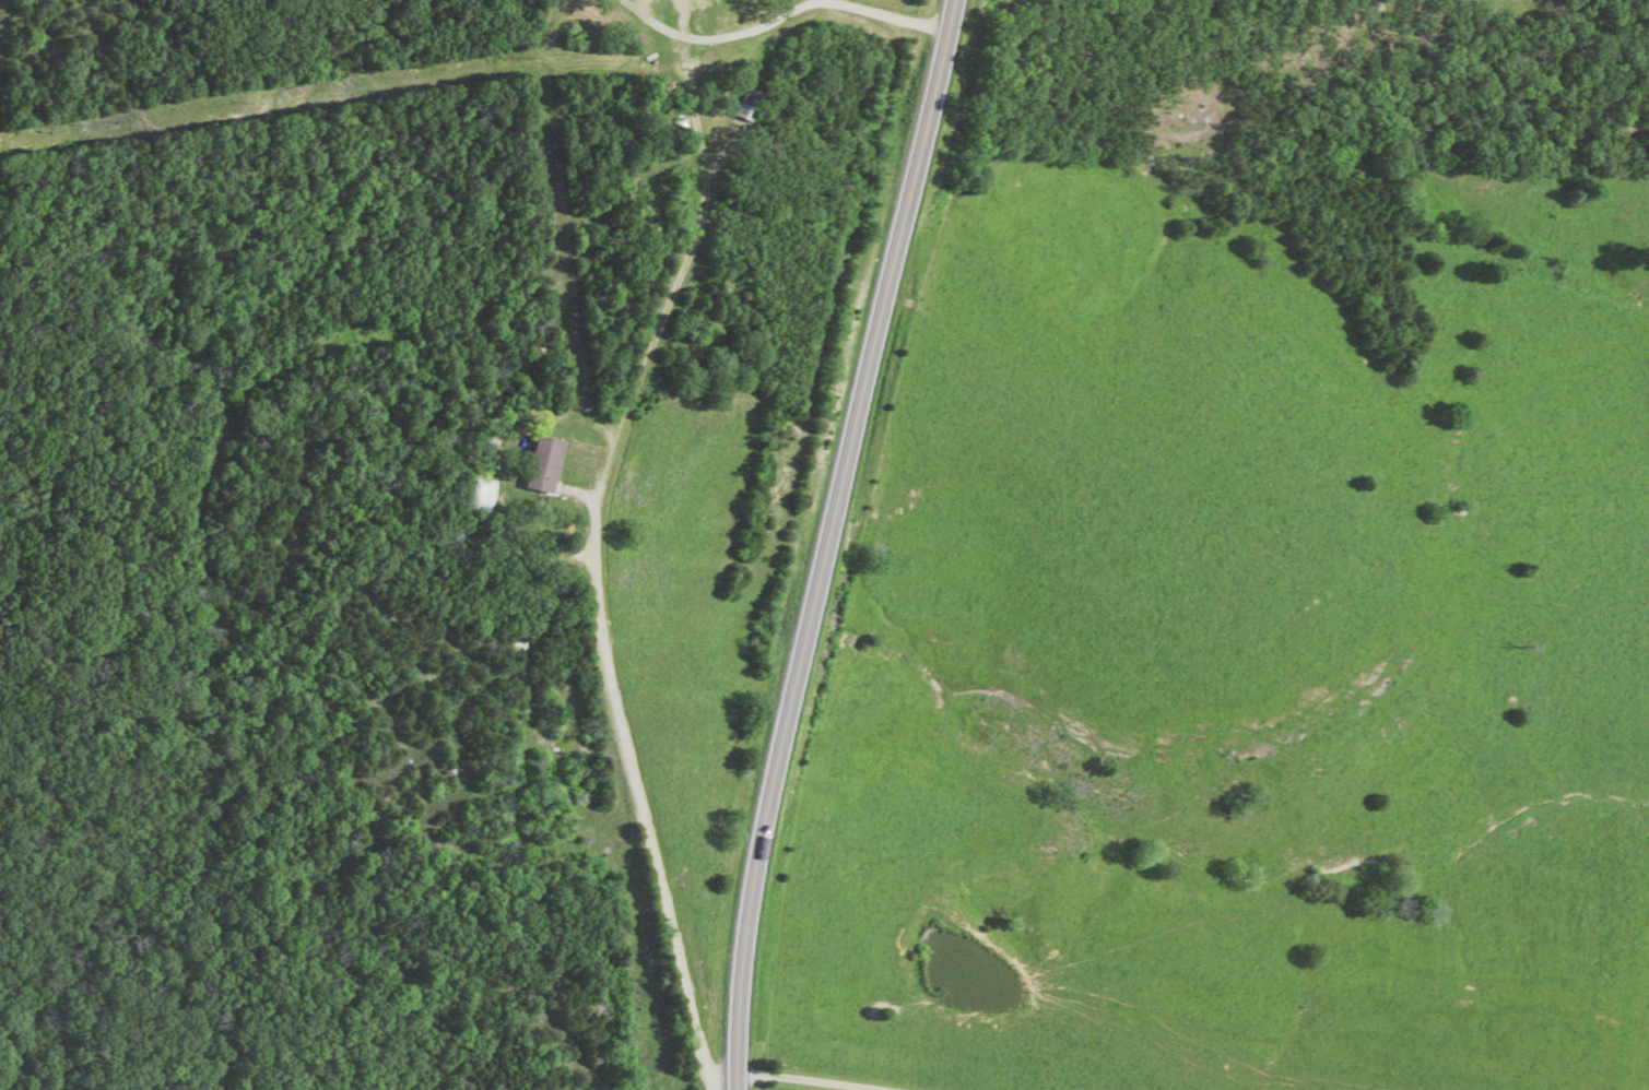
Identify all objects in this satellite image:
building: (694, 8)
building: (746, 107)
building: (537, 466)
building: (475, 497)
road: (824, 542)

